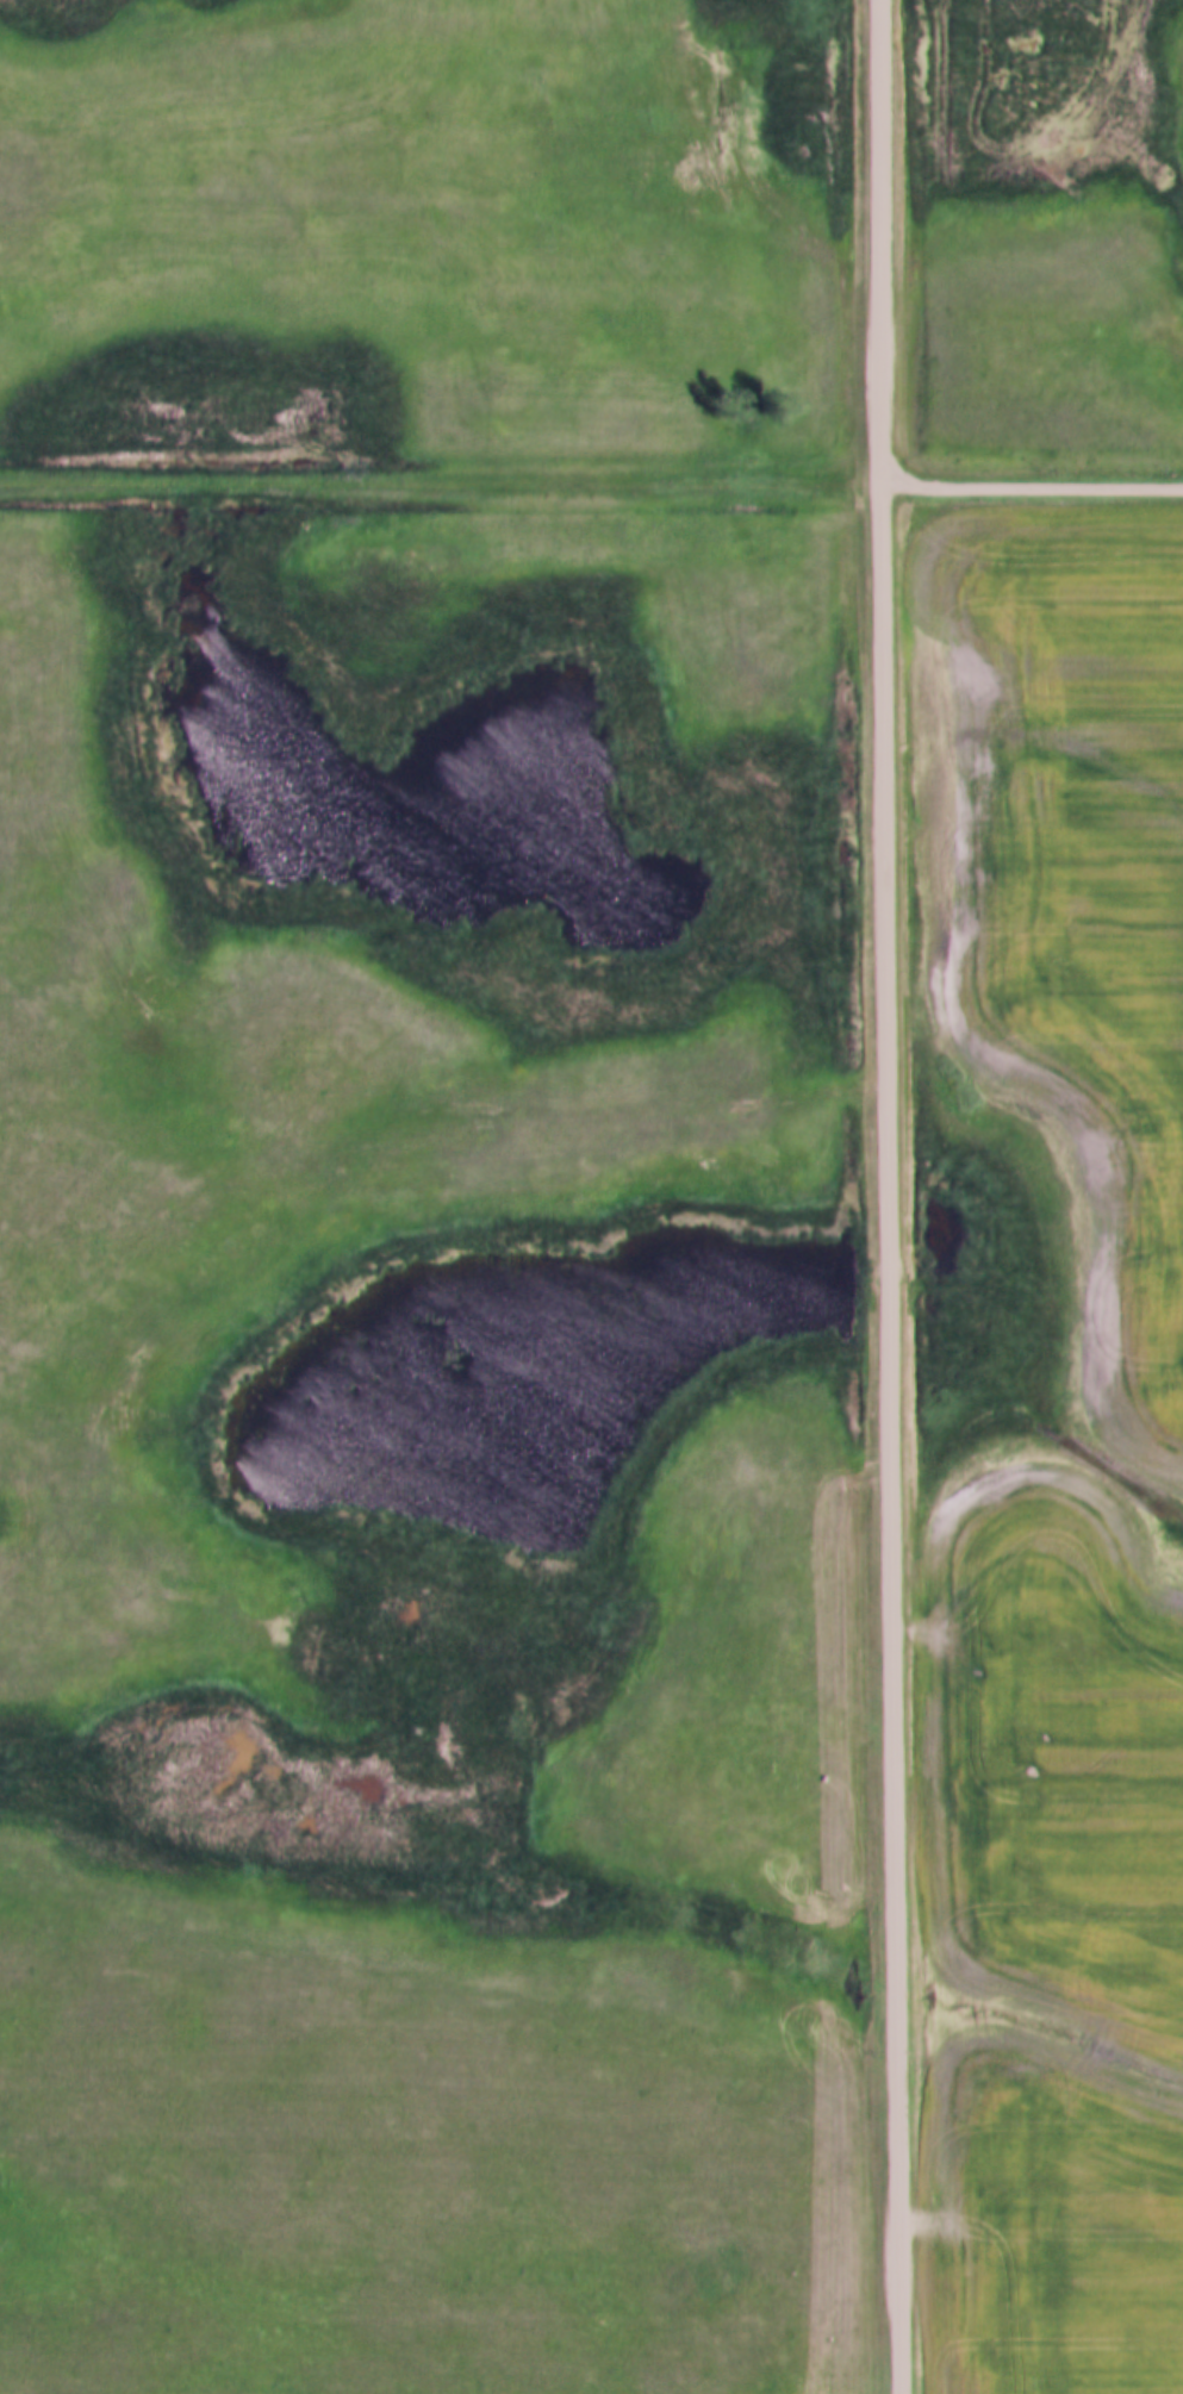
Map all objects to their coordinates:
road: (442, 486)
road: (1033, 490)
road: (891, 1197)

